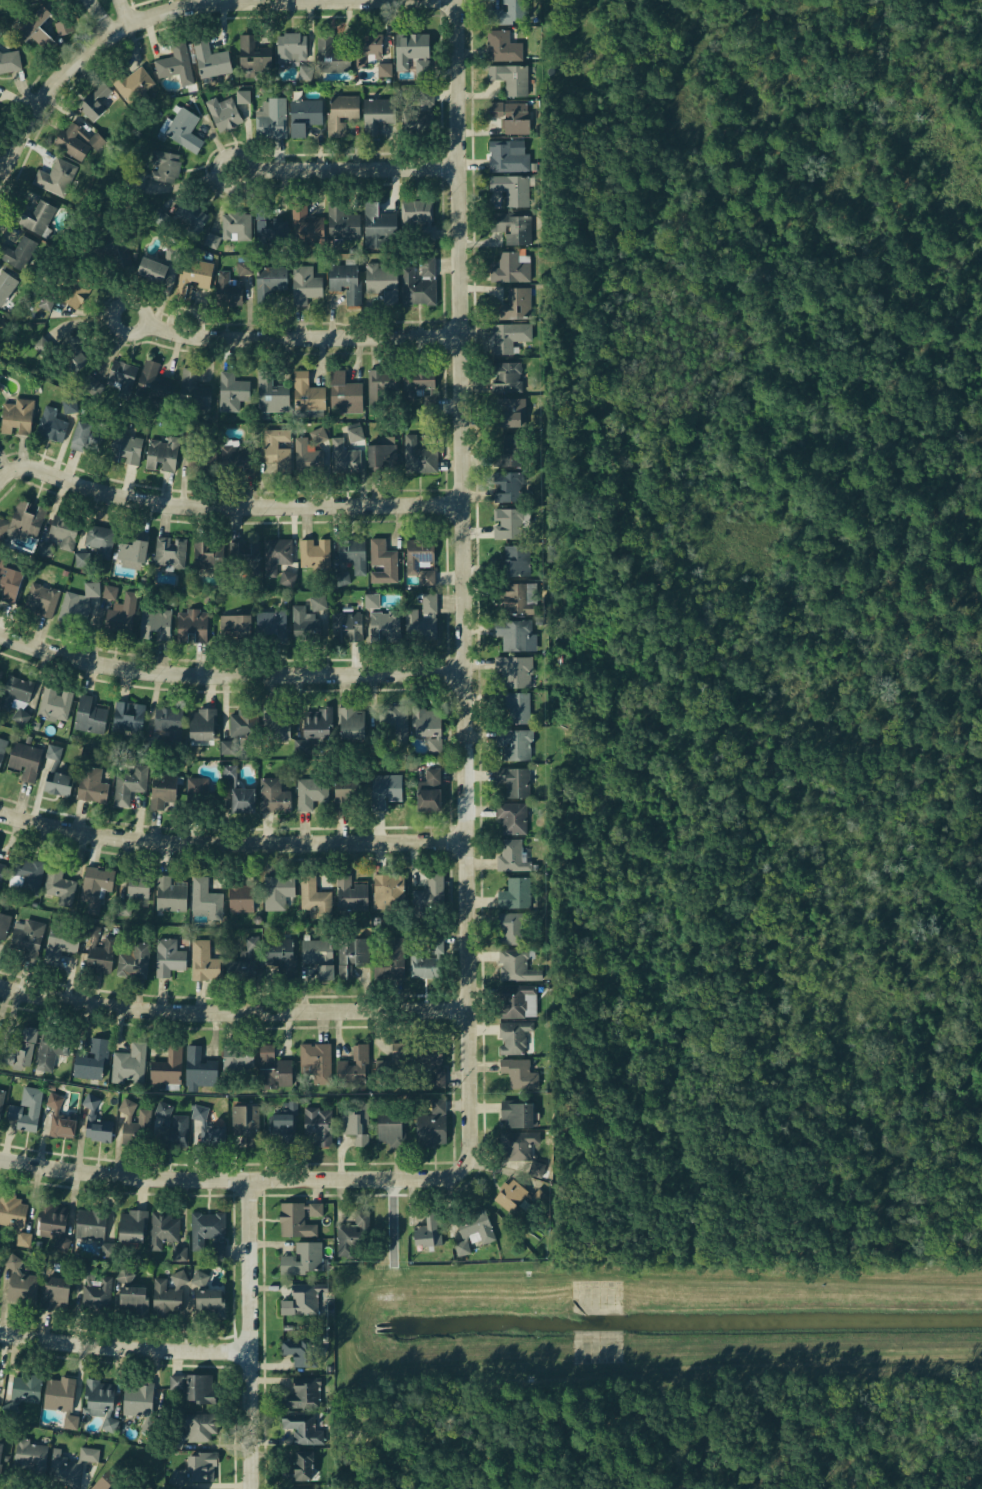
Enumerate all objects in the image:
building: (509, 13)
road: (112, 14)
building: (62, 27)
building: (35, 31)
building: (370, 46)
building: (502, 46)
building: (292, 47)
building: (410, 49)
building: (331, 52)
road: (86, 54)
building: (254, 55)
building: (211, 60)
building: (10, 61)
building: (176, 63)
building: (385, 71)
building: (305, 72)
building: (511, 78)
building: (131, 82)
building: (243, 96)
building: (94, 100)
building: (416, 105)
building: (225, 112)
building: (343, 113)
building: (304, 116)
building: (379, 116)
building: (513, 116)
building: (270, 119)
building: (184, 129)
building: (71, 141)
building: (508, 156)
road: (359, 165)
building: (156, 170)
building: (56, 176)
building: (512, 189)
building: (182, 216)
building: (32, 219)
building: (417, 219)
building: (343, 222)
building: (305, 225)
building: (378, 226)
building: (236, 227)
building: (512, 228)
building: (276, 229)
building: (211, 241)
building: (172, 253)
building: (18, 254)
building: (109, 254)
building: (244, 267)
building: (428, 267)
building: (510, 269)
building: (149, 270)
building: (193, 276)
building: (346, 281)
building: (383, 281)
building: (270, 282)
building: (304, 284)
building: (5, 287)
building: (417, 289)
building: (228, 290)
building: (73, 293)
building: (45, 302)
building: (516, 304)
road: (307, 335)
building: (509, 336)
building: (40, 344)
building: (76, 354)
building: (152, 374)
building: (119, 377)
building: (507, 377)
building: (93, 379)
building: (382, 382)
building: (422, 385)
building: (193, 390)
building: (235, 391)
building: (270, 391)
building: (307, 391)
building: (344, 396)
building: (69, 405)
building: (511, 412)
building: (17, 416)
building: (51, 422)
building: (85, 432)
building: (355, 433)
building: (318, 434)
building: (126, 448)
building: (278, 448)
building: (379, 451)
building: (508, 452)
building: (163, 454)
building: (418, 455)
building: (307, 456)
building: (343, 457)
building: (204, 458)
building: (237, 458)
road: (36, 468)
building: (508, 487)
road: (270, 505)
building: (22, 520)
building: (509, 524)
building: (62, 530)
building: (99, 539)
building: (44, 548)
building: (169, 550)
building: (130, 552)
building: (245, 552)
building: (418, 552)
building: (209, 553)
building: (276, 554)
building: (352, 554)
building: (79, 559)
building: (516, 560)
building: (315, 562)
building: (382, 563)
building: (342, 577)
building: (427, 577)
building: (287, 578)
building: (10, 582)
road: (470, 588)
building: (110, 590)
building: (42, 598)
building: (518, 598)
building: (372, 600)
building: (319, 602)
building: (73, 612)
building: (121, 615)
building: (272, 620)
building: (421, 620)
building: (155, 622)
building: (192, 625)
building: (235, 625)
building: (306, 626)
building: (346, 626)
building: (385, 626)
building: (516, 635)
building: (514, 671)
road: (233, 674)
building: (1, 675)
building: (14, 692)
building: (53, 702)
building: (516, 706)
building: (129, 714)
building: (90, 715)
building: (168, 721)
building: (243, 721)
building: (350, 722)
building: (202, 723)
building: (390, 723)
building: (428, 726)
building: (274, 727)
building: (314, 727)
building: (515, 743)
building: (3, 745)
building: (227, 747)
building: (24, 760)
building: (230, 770)
building: (57, 782)
building: (515, 782)
building: (92, 783)
building: (129, 783)
building: (198, 786)
building: (346, 788)
building: (161, 789)
building: (385, 789)
building: (428, 790)
building: (311, 791)
building: (273, 794)
building: (241, 799)
building: (512, 817)
road: (235, 841)
building: (511, 856)
building: (1, 872)
building: (26, 875)
building: (60, 883)
building: (134, 885)
building: (94, 888)
building: (389, 888)
building: (431, 891)
building: (351, 892)
building: (515, 893)
building: (169, 894)
building: (240, 895)
building: (315, 897)
building: (206, 898)
building: (279, 900)
building: (123, 908)
building: (511, 929)
building: (21, 934)
building: (61, 942)
building: (424, 950)
building: (98, 952)
building: (384, 954)
building: (352, 955)
building: (131, 956)
building: (169, 956)
building: (279, 956)
building: (317, 958)
building: (205, 960)
building: (243, 963)
building: (517, 966)
building: (517, 1001)
road: (236, 1011)
building: (514, 1037)
building: (17, 1051)
building: (236, 1058)
building: (86, 1060)
building: (48, 1061)
building: (124, 1064)
building: (328, 1066)
building: (161, 1067)
building: (432, 1069)
building: (273, 1070)
building: (388, 1070)
building: (200, 1071)
building: (520, 1073)
building: (0, 1084)
building: (1, 1100)
building: (31, 1111)
building: (517, 1114)
building: (129, 1115)
building: (62, 1117)
building: (166, 1117)
building: (242, 1118)
building: (95, 1123)
building: (278, 1124)
building: (319, 1126)
building: (354, 1126)
building: (436, 1127)
building: (208, 1130)
building: (390, 1131)
building: (518, 1145)
road: (230, 1179)
building: (510, 1196)
building: (540, 1197)
building: (13, 1217)
building: (47, 1219)
building: (301, 1222)
building: (126, 1225)
building: (86, 1226)
building: (161, 1226)
building: (433, 1230)
building: (398, 1232)
building: (206, 1233)
building: (473, 1236)
building: (360, 1238)
building: (23, 1239)
building: (179, 1252)
building: (306, 1261)
building: (1, 1264)
building: (125, 1276)
building: (200, 1278)
building: (22, 1285)
building: (59, 1296)
building: (97, 1302)
building: (304, 1302)
building: (133, 1306)
building: (170, 1307)
building: (211, 1308)
road: (255, 1334)
road: (127, 1346)
building: (304, 1354)
building: (197, 1390)
building: (305, 1395)
building: (26, 1396)
building: (62, 1396)
building: (100, 1399)
building: (149, 1401)
building: (304, 1428)
building: (201, 1430)
building: (3, 1457)
building: (33, 1460)
building: (206, 1468)
building: (299, 1470)
building: (70, 1473)
building: (178, 1477)
building: (101, 1485)
building: (303, 1488)

